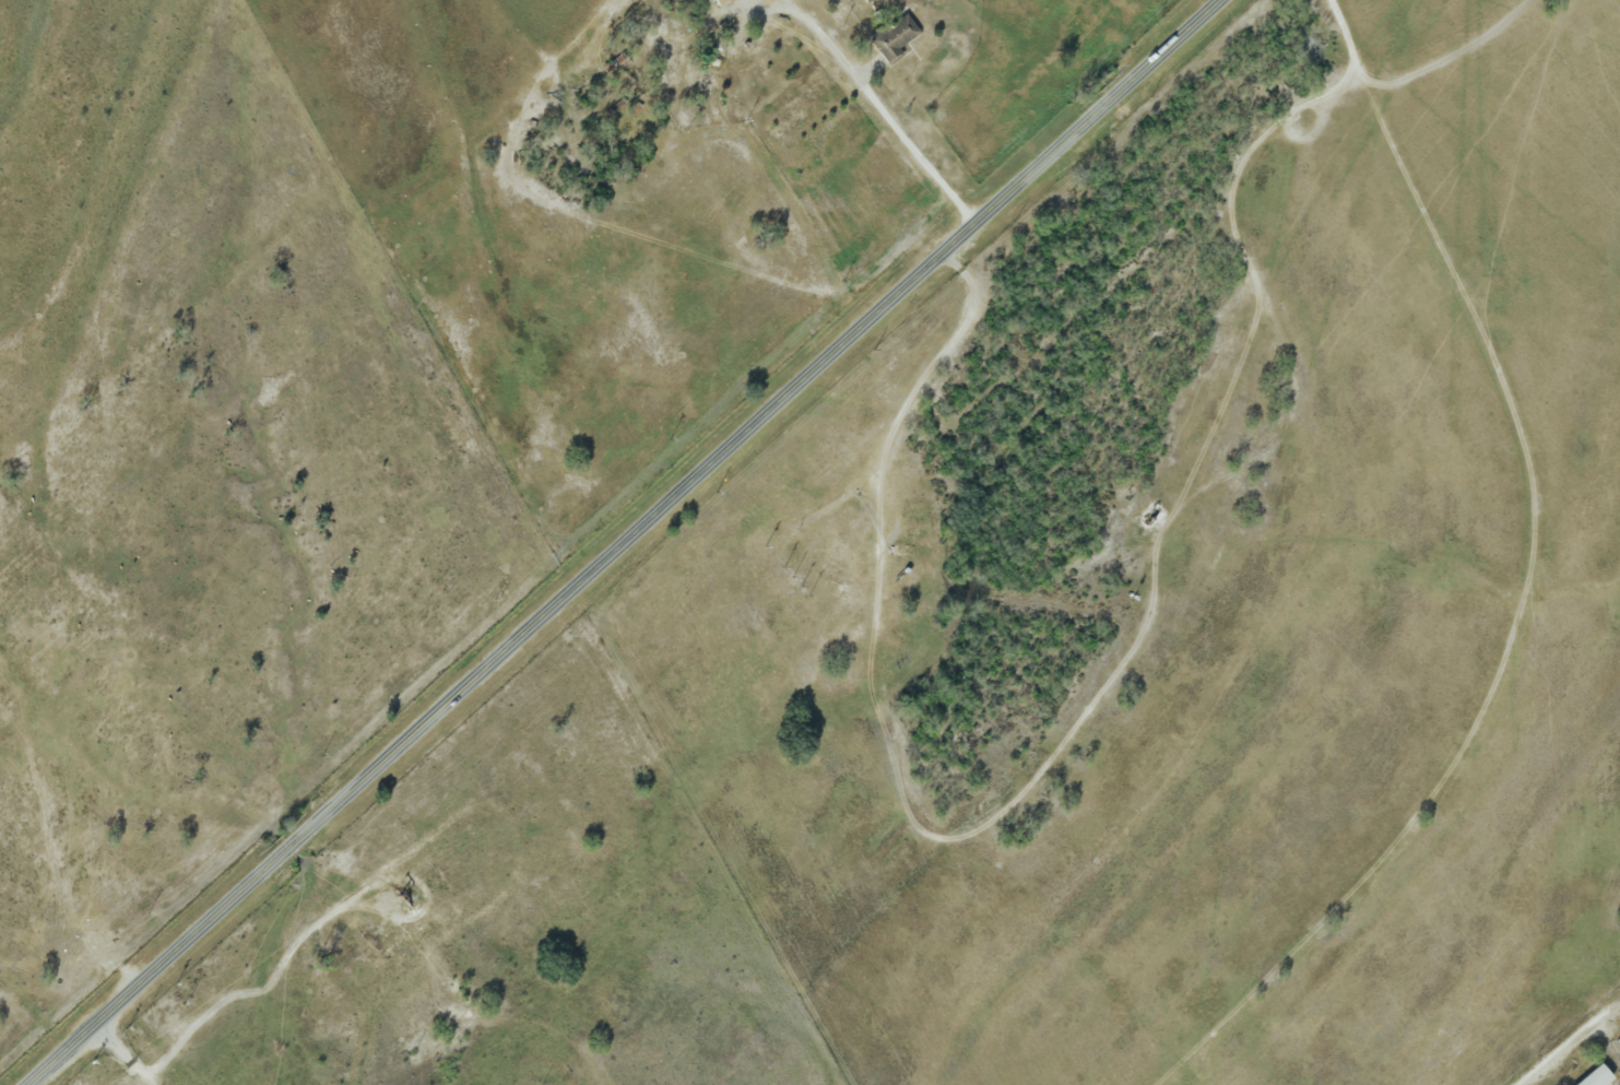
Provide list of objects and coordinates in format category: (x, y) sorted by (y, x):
building: (721, 2)
building: (894, 36)
road: (883, 106)
road: (626, 540)
road: (1569, 1041)
building: (1596, 1077)

